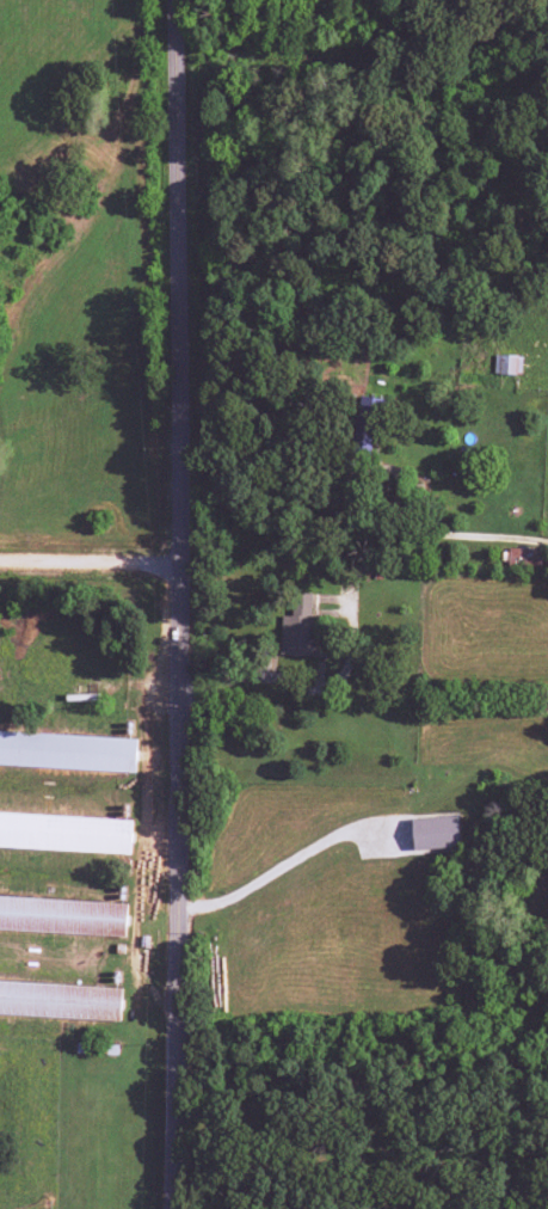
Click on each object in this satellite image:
road: (362, 237)
building: (507, 364)
road: (457, 534)
building: (524, 557)
road: (87, 561)
road: (174, 604)
building: (298, 630)
building: (67, 751)
building: (64, 833)
building: (436, 833)
road: (288, 859)
building: (63, 915)
building: (60, 1000)

